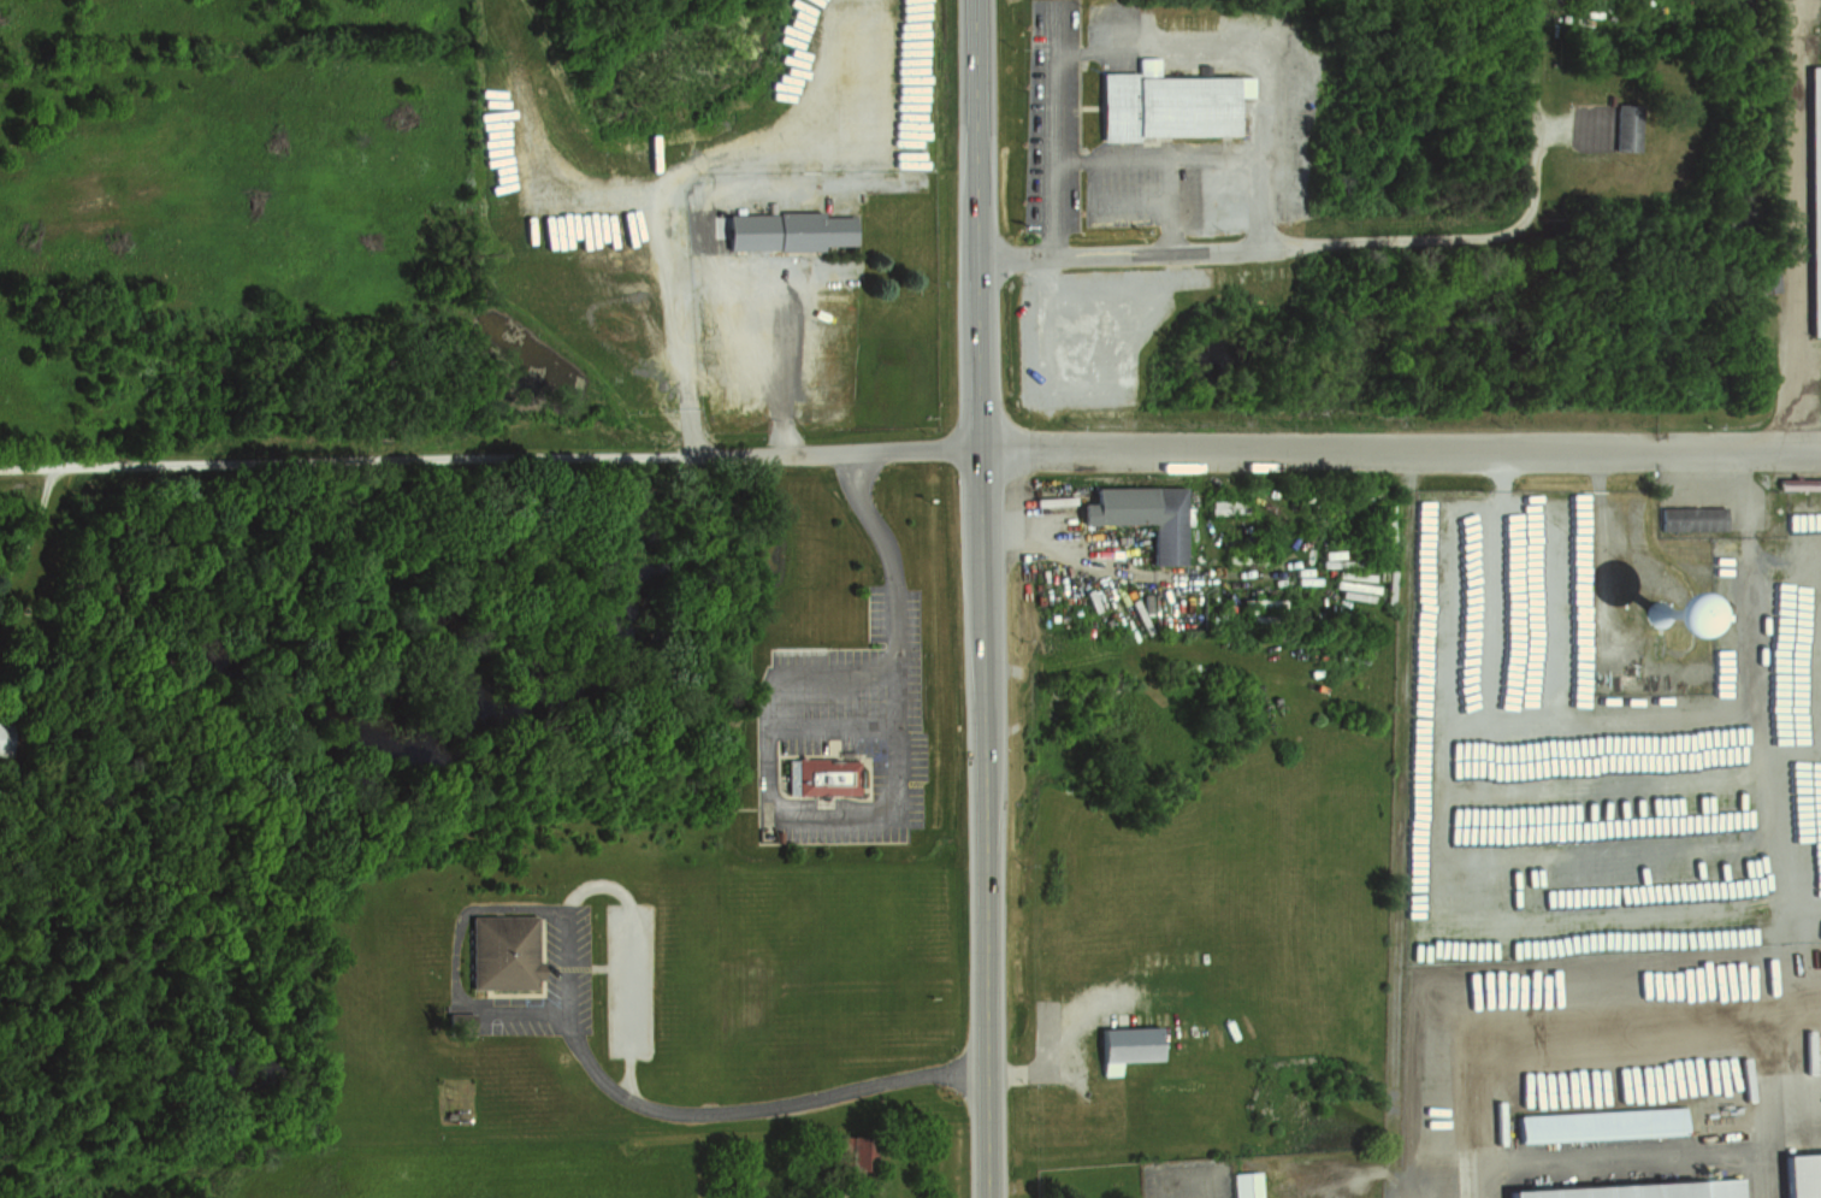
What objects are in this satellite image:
road: (1157, 43)
building: (1170, 100)
building: (1603, 124)
road: (776, 151)
building: (1815, 191)
building: (784, 226)
road: (1803, 226)
road: (1365, 240)
road: (682, 273)
road: (1107, 397)
road: (693, 412)
road: (1399, 447)
road: (489, 459)
building: (1140, 513)
building: (1693, 519)
road: (34, 526)
road: (979, 598)
building: (1063, 602)
water tower: (1660, 615)
building: (7, 738)
building: (824, 778)
road: (897, 816)
road: (1479, 822)
building: (502, 954)
road: (1648, 1009)
building: (1127, 1041)
road: (1056, 1060)
road: (741, 1110)
building: (1596, 1122)
road: (1639, 1157)
building: (853, 1159)
building: (1803, 1175)
building: (1242, 1184)
building: (1638, 1190)

